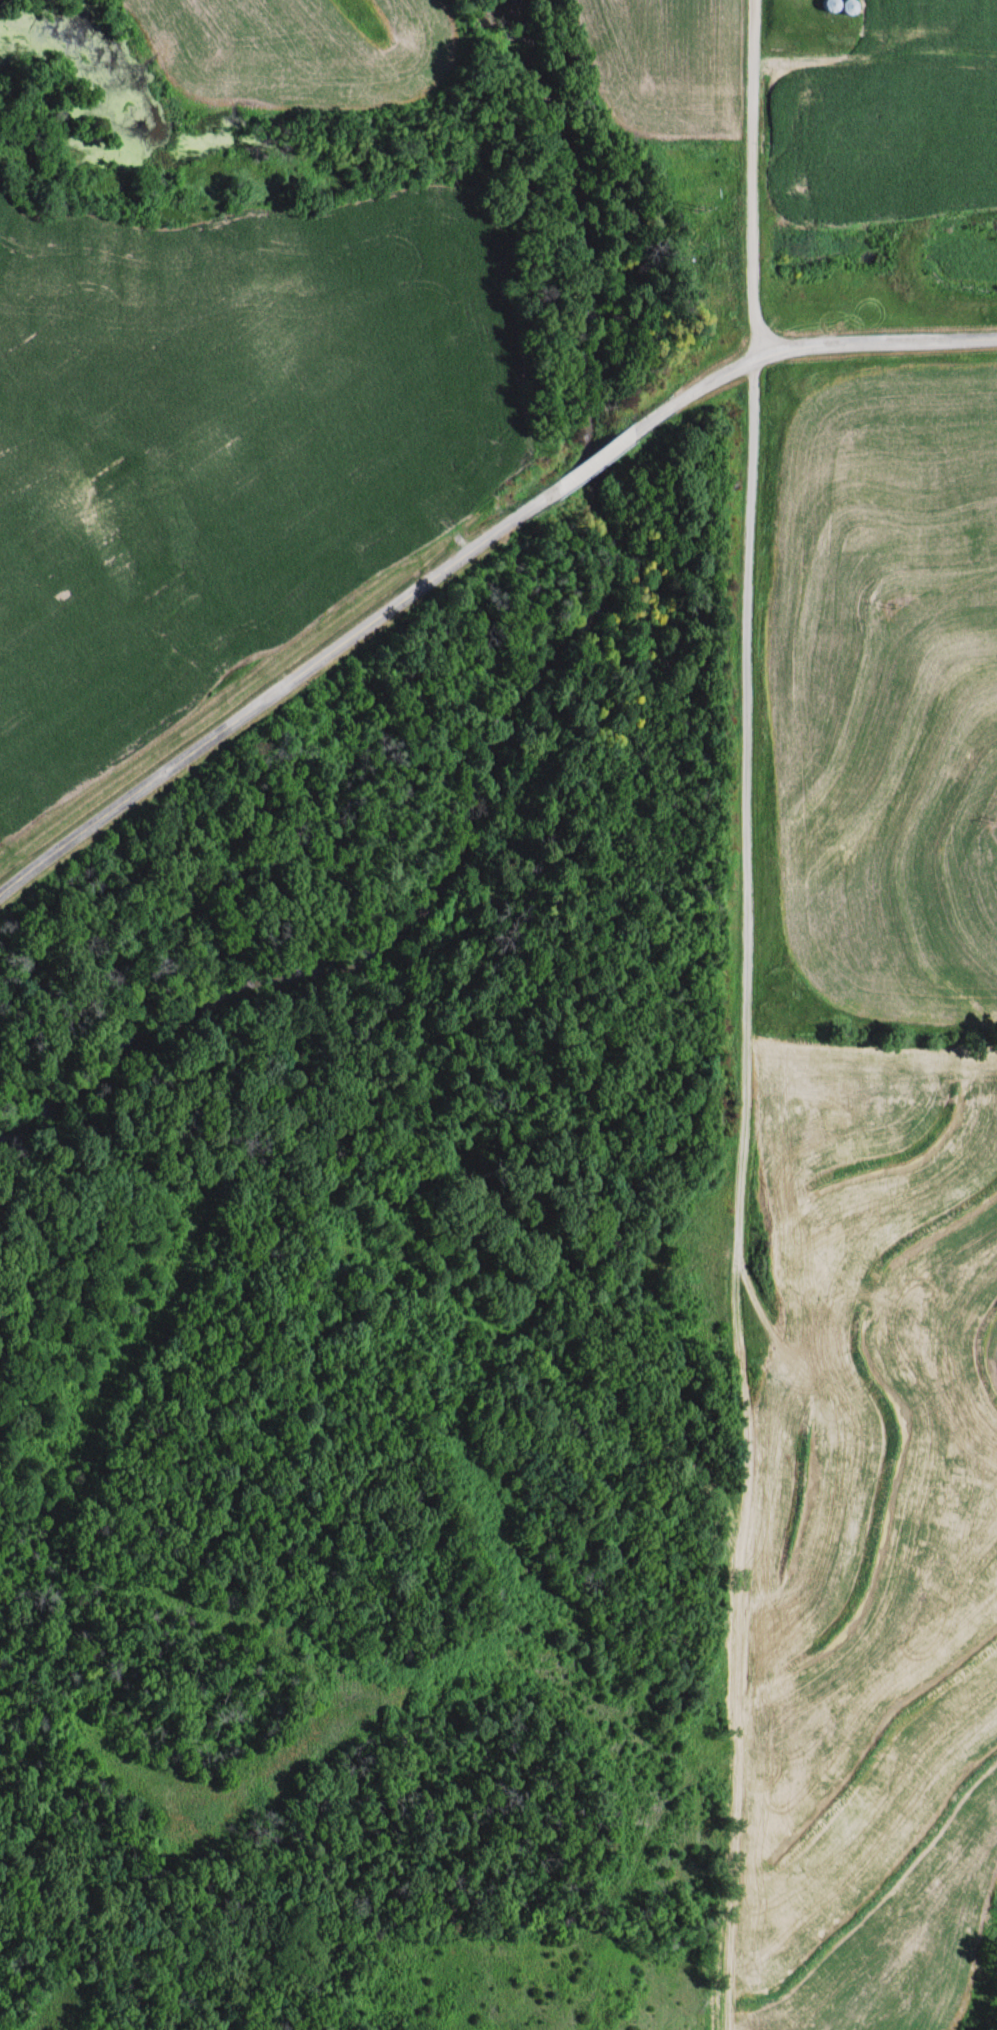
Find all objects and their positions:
building: (836, 5)
road: (749, 175)
power tower: (700, 207)
road: (801, 343)
road: (590, 458)
power tower: (892, 601)
road: (274, 685)
building: (800, 1374)

